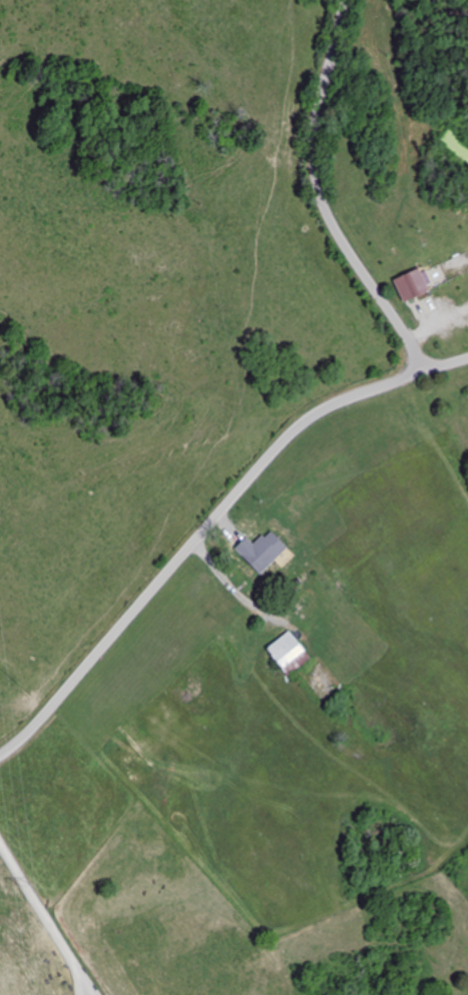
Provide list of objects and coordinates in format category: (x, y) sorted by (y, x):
road: (321, 198)
building: (412, 287)
road: (210, 520)
building: (291, 654)

